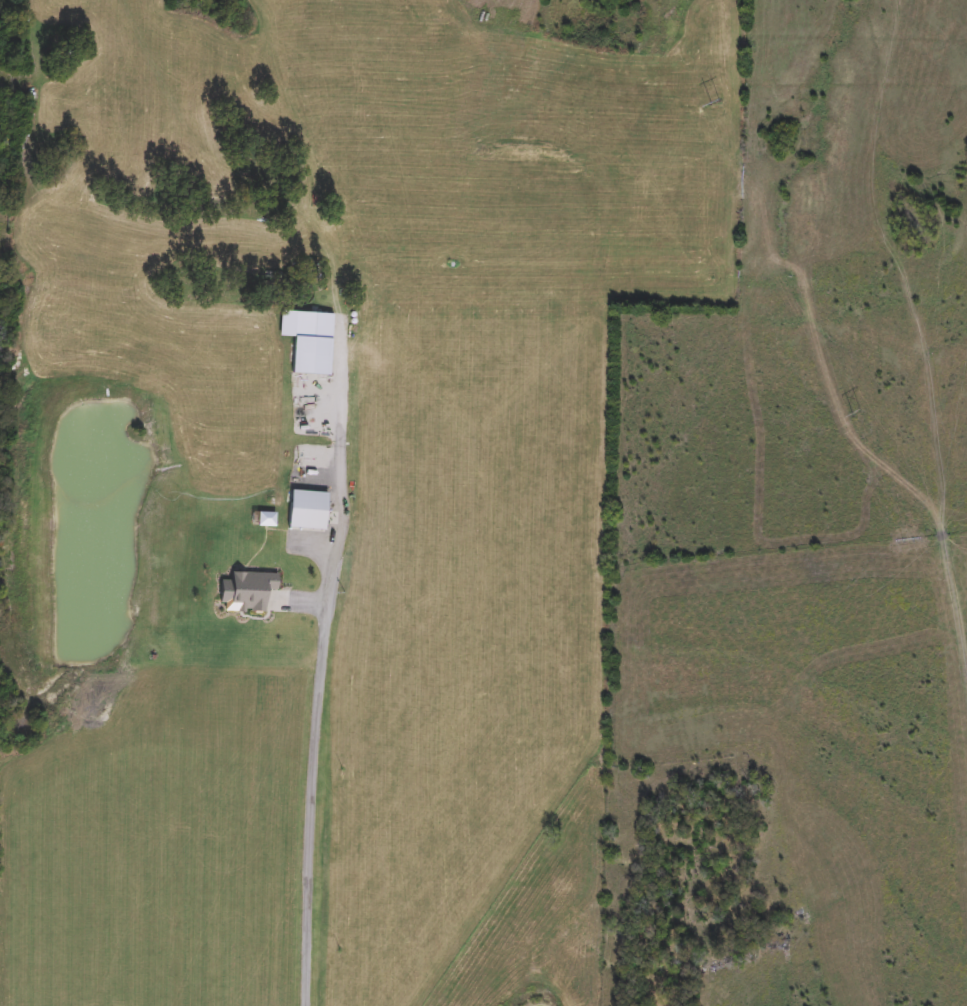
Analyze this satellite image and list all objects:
road: (305, 807)

